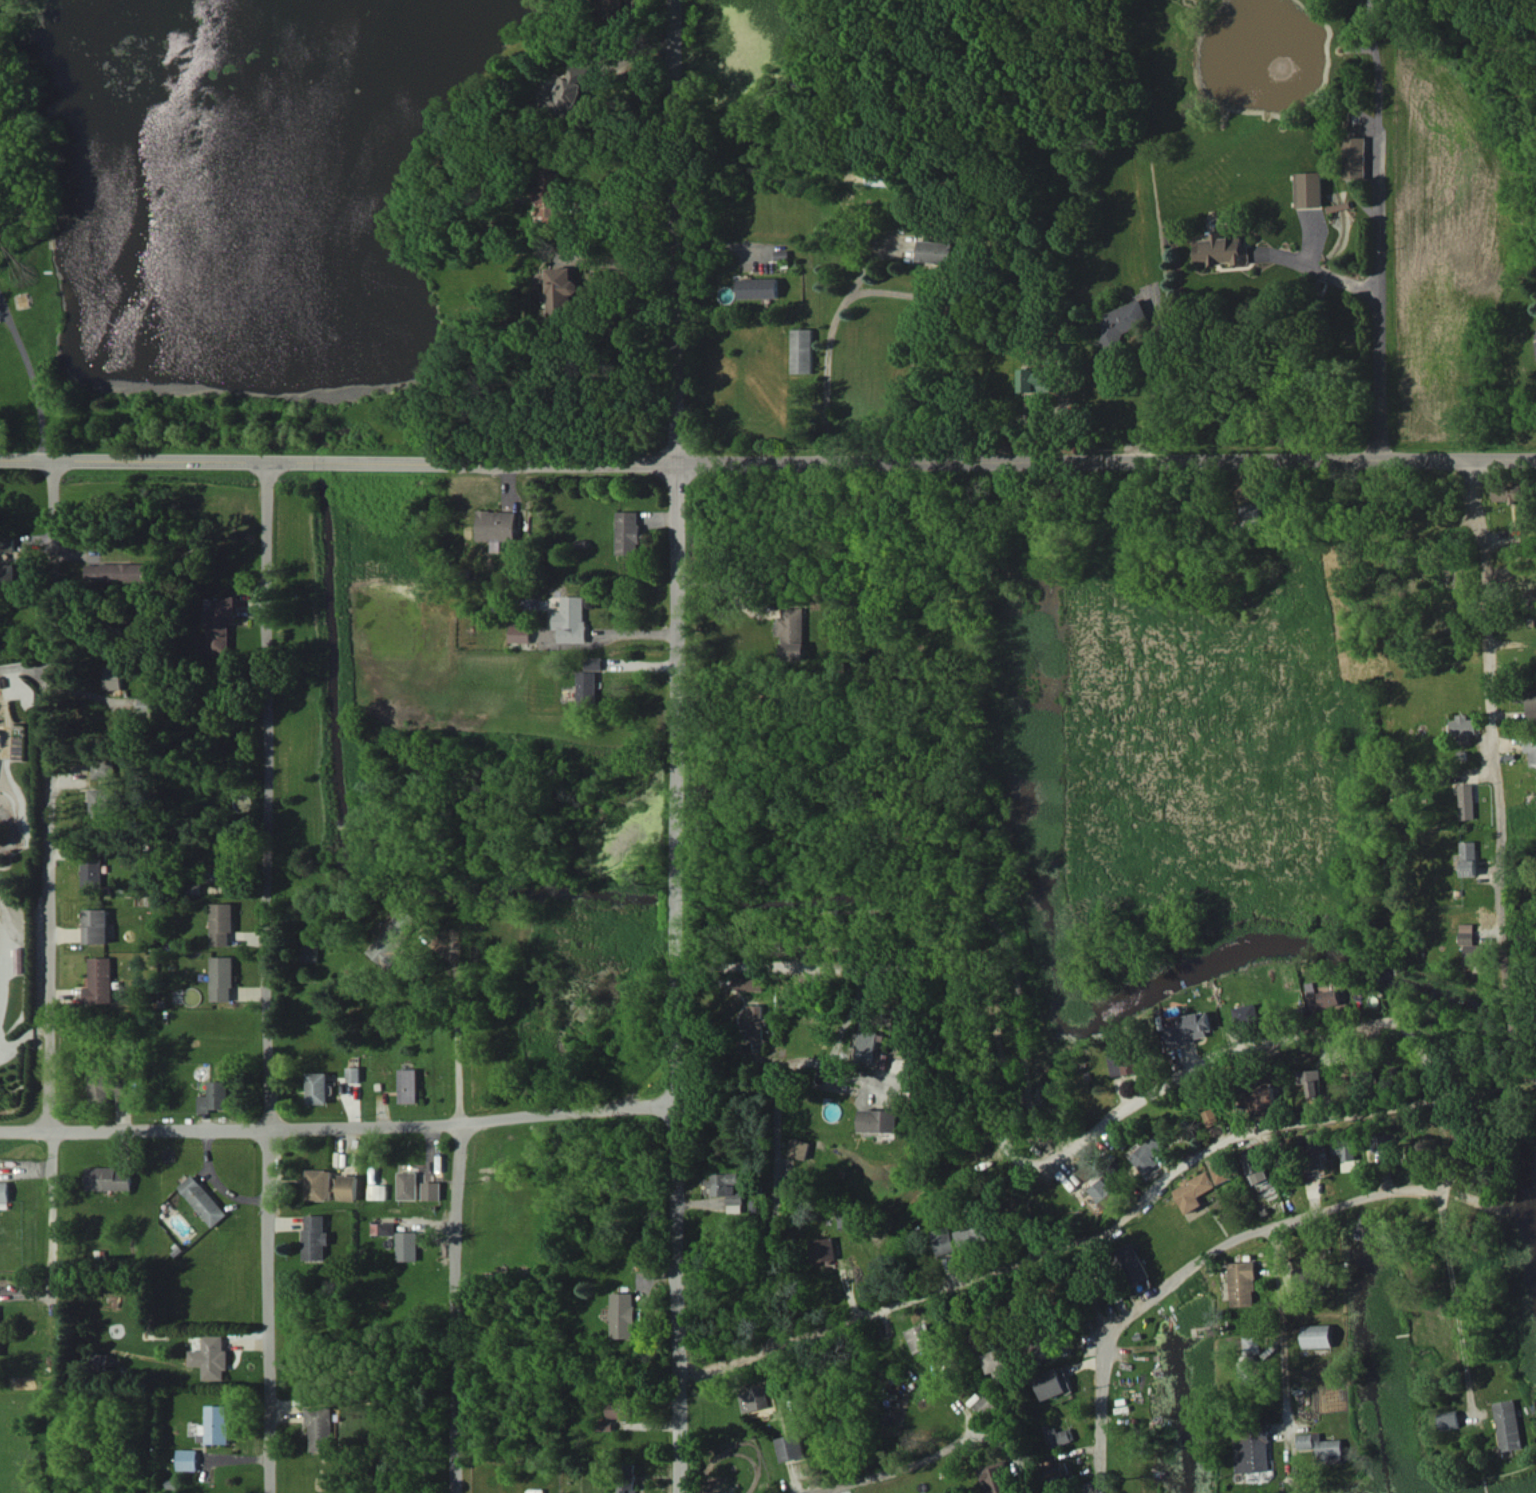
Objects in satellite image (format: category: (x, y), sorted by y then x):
building: (611, 8)
building: (574, 91)
road: (1380, 148)
building: (1356, 157)
building: (552, 189)
building: (1310, 189)
road: (673, 232)
building: (1223, 249)
building: (935, 251)
building: (760, 288)
building: (562, 289)
building: (1124, 321)
road: (1381, 321)
road: (1532, 343)
road: (829, 345)
building: (802, 350)
building: (1038, 379)
road: (1150, 381)
road: (29, 383)
road: (1013, 416)
road: (768, 466)
building: (1506, 492)
building: (1250, 512)
building: (627, 532)
building: (5, 543)
building: (115, 573)
building: (5, 575)
building: (570, 619)
building: (222, 624)
building: (519, 633)
road: (621, 633)
building: (793, 633)
building: (593, 663)
building: (115, 676)
building: (1, 682)
building: (586, 686)
building: (1531, 702)
building: (1462, 726)
building: (1531, 750)
road: (1494, 757)
building: (105, 769)
road: (51, 795)
building: (103, 800)
building: (1466, 801)
building: (1469, 858)
building: (94, 871)
building: (221, 873)
building: (224, 923)
building: (97, 925)
building: (393, 937)
building: (1474, 947)
building: (310, 953)
road: (928, 972)
road: (269, 977)
building: (224, 978)
road: (675, 979)
building: (100, 980)
building: (747, 983)
building: (1320, 997)
building: (1243, 1013)
building: (756, 1021)
building: (1188, 1028)
road: (1258, 1044)
building: (866, 1046)
road: (1530, 1061)
building: (1122, 1063)
building: (353, 1074)
road: (783, 1074)
building: (1308, 1081)
building: (408, 1085)
building: (102, 1086)
building: (317, 1087)
building: (215, 1097)
building: (1263, 1099)
building: (1210, 1117)
building: (883, 1120)
road: (336, 1126)
building: (1380, 1143)
road: (1453, 1147)
building: (801, 1148)
building: (1345, 1148)
building: (1316, 1151)
building: (1148, 1154)
building: (1258, 1167)
building: (1224, 1171)
building: (108, 1178)
building: (319, 1184)
building: (408, 1185)
building: (726, 1186)
building: (348, 1187)
road: (1370, 1187)
building: (432, 1190)
building: (4, 1191)
building: (378, 1191)
building: (1196, 1191)
building: (1104, 1193)
building: (203, 1200)
road: (52, 1211)
road: (458, 1217)
building: (383, 1228)
building: (317, 1237)
building: (961, 1237)
road: (1071, 1242)
road: (780, 1244)
building: (408, 1246)
building: (822, 1249)
building: (1134, 1263)
building: (1242, 1283)
building: (624, 1315)
road: (1281, 1323)
building: (1317, 1335)
building: (921, 1337)
building: (1, 1344)
building: (1251, 1344)
building: (212, 1357)
building: (104, 1361)
building: (998, 1364)
building: (1248, 1369)
building: (1053, 1383)
building: (752, 1398)
building: (984, 1406)
building: (619, 1409)
road: (1099, 1412)
building: (1449, 1419)
building: (216, 1425)
building: (607, 1425)
building: (1509, 1425)
building: (322, 1427)
building: (1057, 1436)
building: (1320, 1445)
building: (791, 1447)
building: (1252, 1448)
building: (188, 1459)
road: (851, 1472)
building: (1058, 1472)
building: (628, 1478)
building: (998, 1478)

